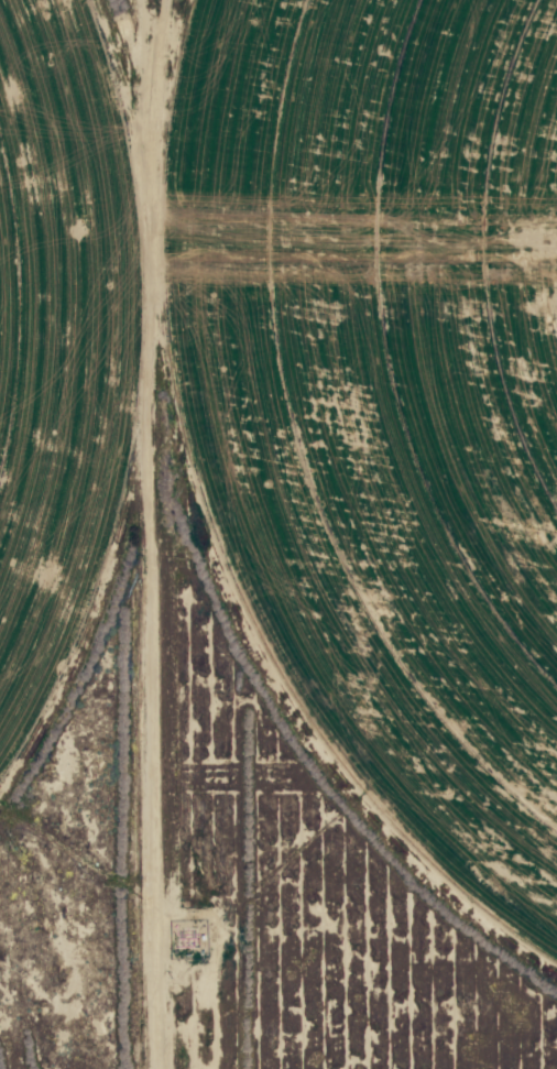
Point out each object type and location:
crop: (307, 393)
road: (84, 534)

